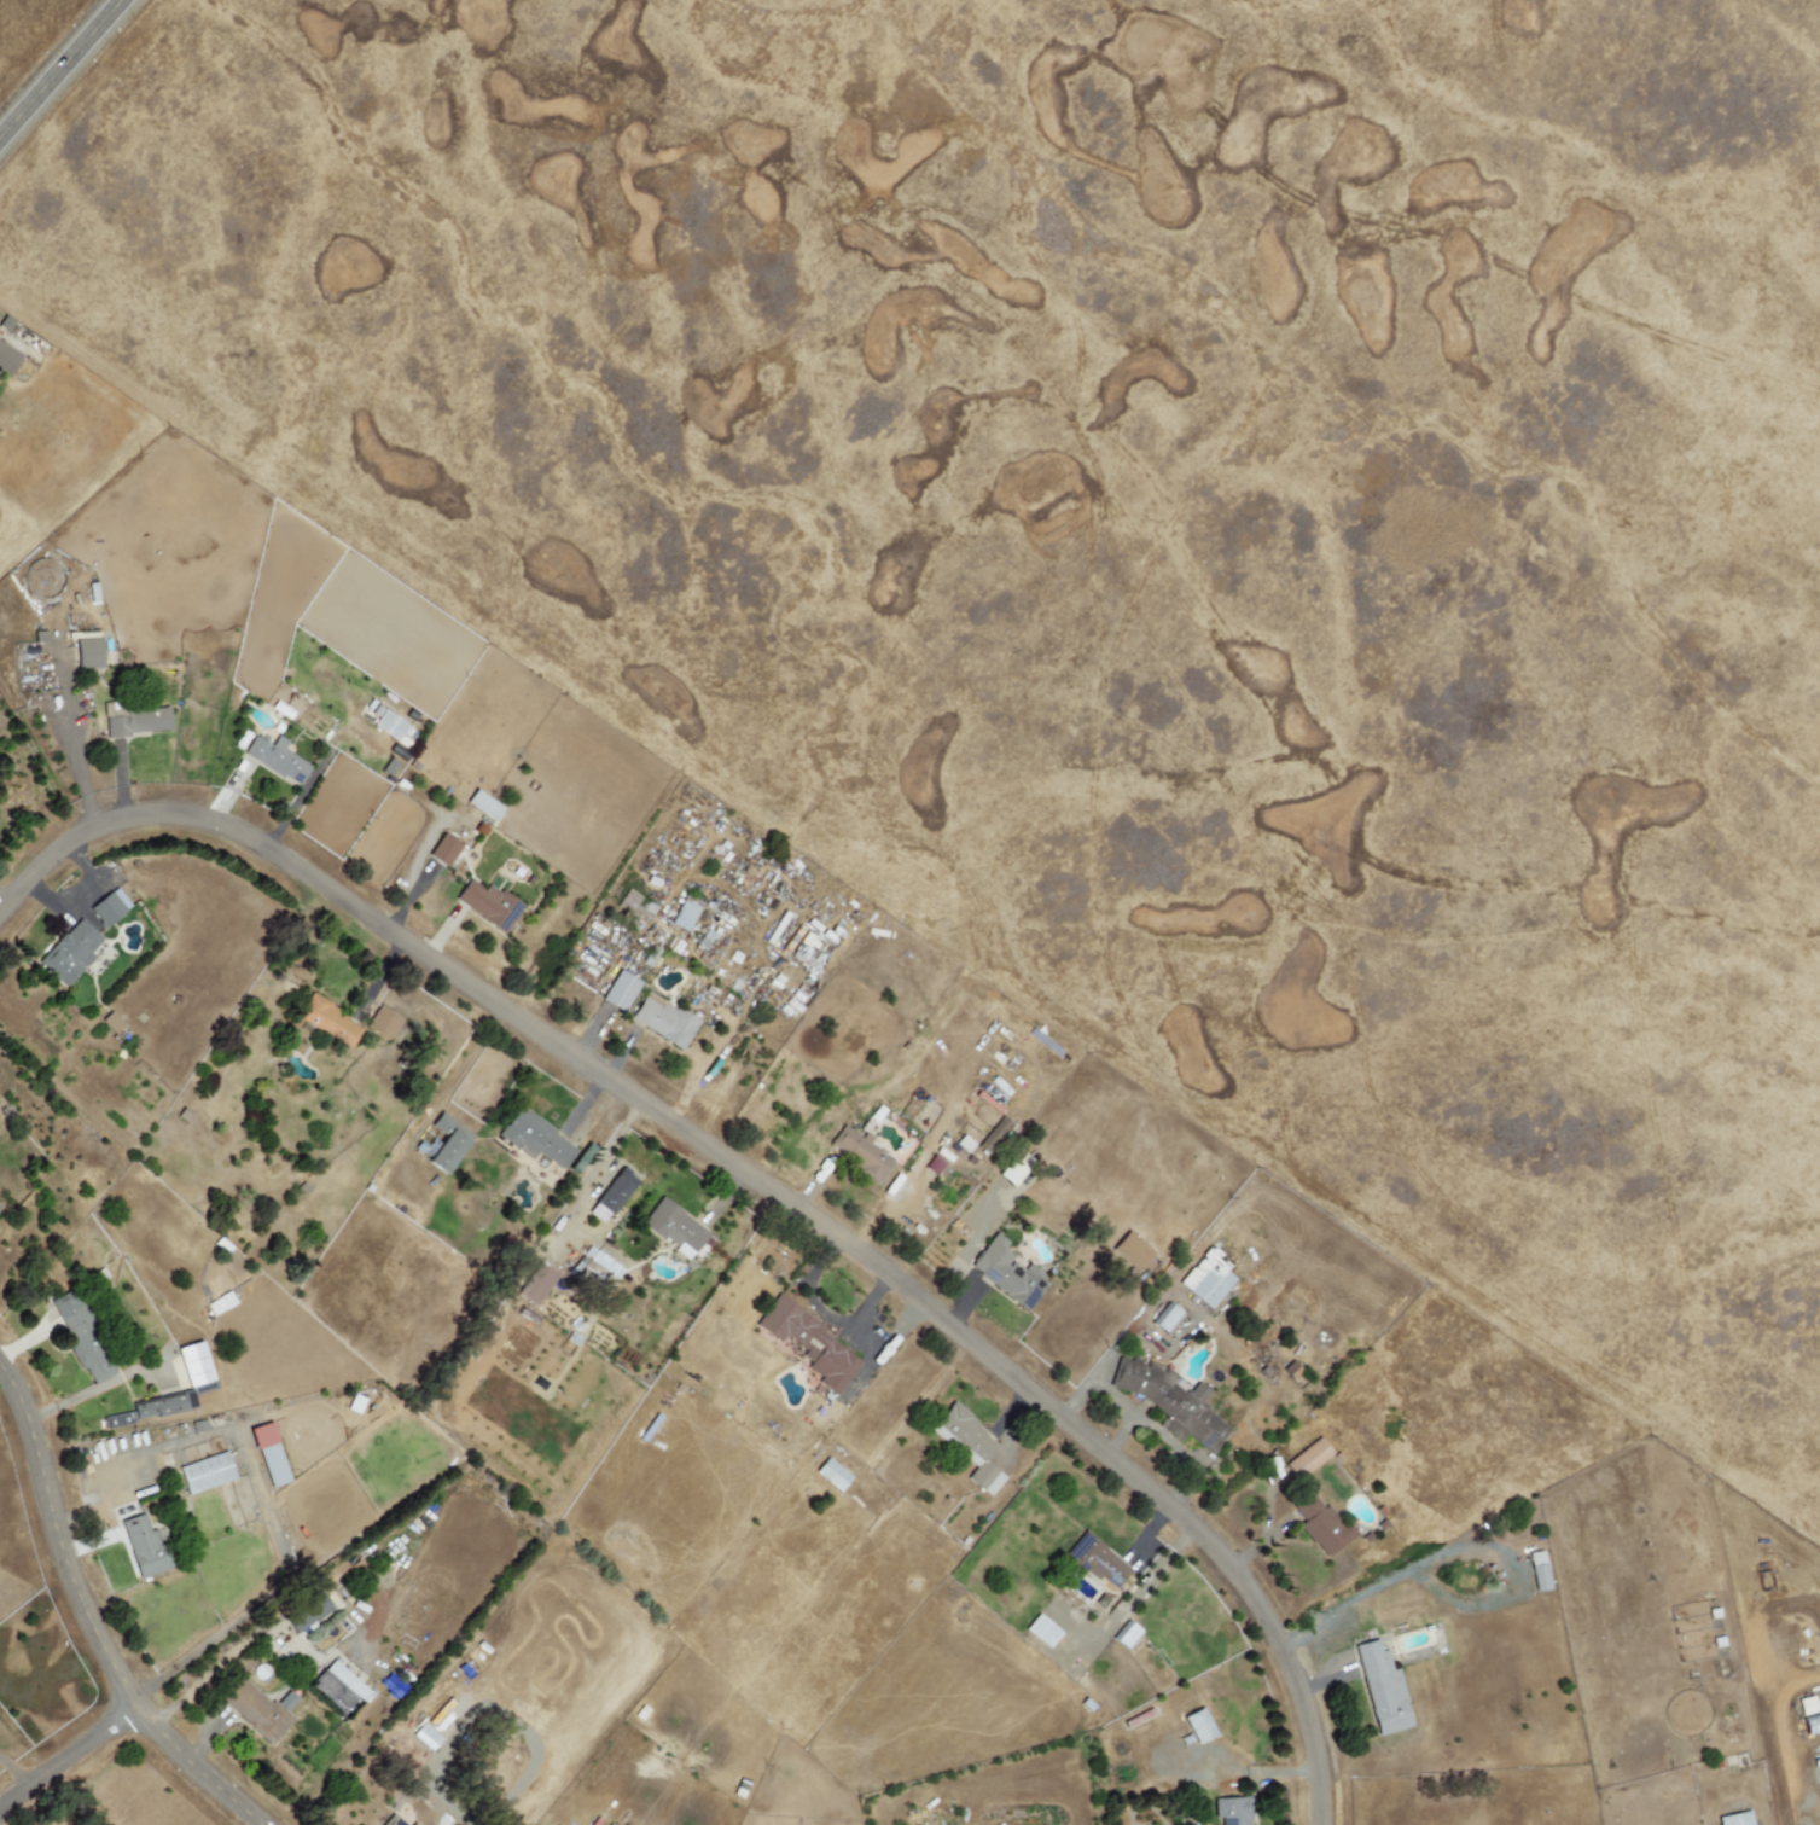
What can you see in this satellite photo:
road: (60, 69)
crop: (460, 304)
building: (7, 360)
building: (88, 653)
building: (136, 722)
building: (389, 726)
building: (275, 759)
building: (483, 804)
building: (443, 850)
building: (488, 905)
building: (109, 907)
building: (685, 914)
building: (69, 953)
building: (620, 992)
building: (663, 1021)
building: (328, 1022)
building: (111, 1023)
building: (383, 1023)
building: (994, 1135)
building: (535, 1139)
building: (447, 1143)
building: (860, 1153)
building: (1013, 1168)
road: (751, 1180)
building: (615, 1191)
building: (0, 1205)
building: (674, 1227)
building: (1132, 1251)
building: (594, 1266)
building: (1007, 1273)
building: (1206, 1278)
building: (220, 1303)
building: (1165, 1319)
building: (81, 1336)
building: (810, 1345)
building: (194, 1367)
building: (1170, 1401)
building: (969, 1447)
building: (269, 1454)
building: (1308, 1459)
building: (205, 1474)
building: (832, 1474)
building: (1321, 1525)
road: (278, 1536)
building: (144, 1547)
building: (1094, 1560)
building: (1537, 1571)
road: (91, 1611)
building: (307, 1614)
building: (1041, 1631)
building: (1126, 1635)
building: (338, 1689)
building: (1382, 1690)
building: (1806, 1705)
building: (258, 1710)
building: (1810, 1724)
building: (1198, 1726)
building: (426, 1737)
road: (71, 1766)
road: (21, 1773)
building: (1231, 1811)
building: (1735, 1819)
building: (391, 1820)

